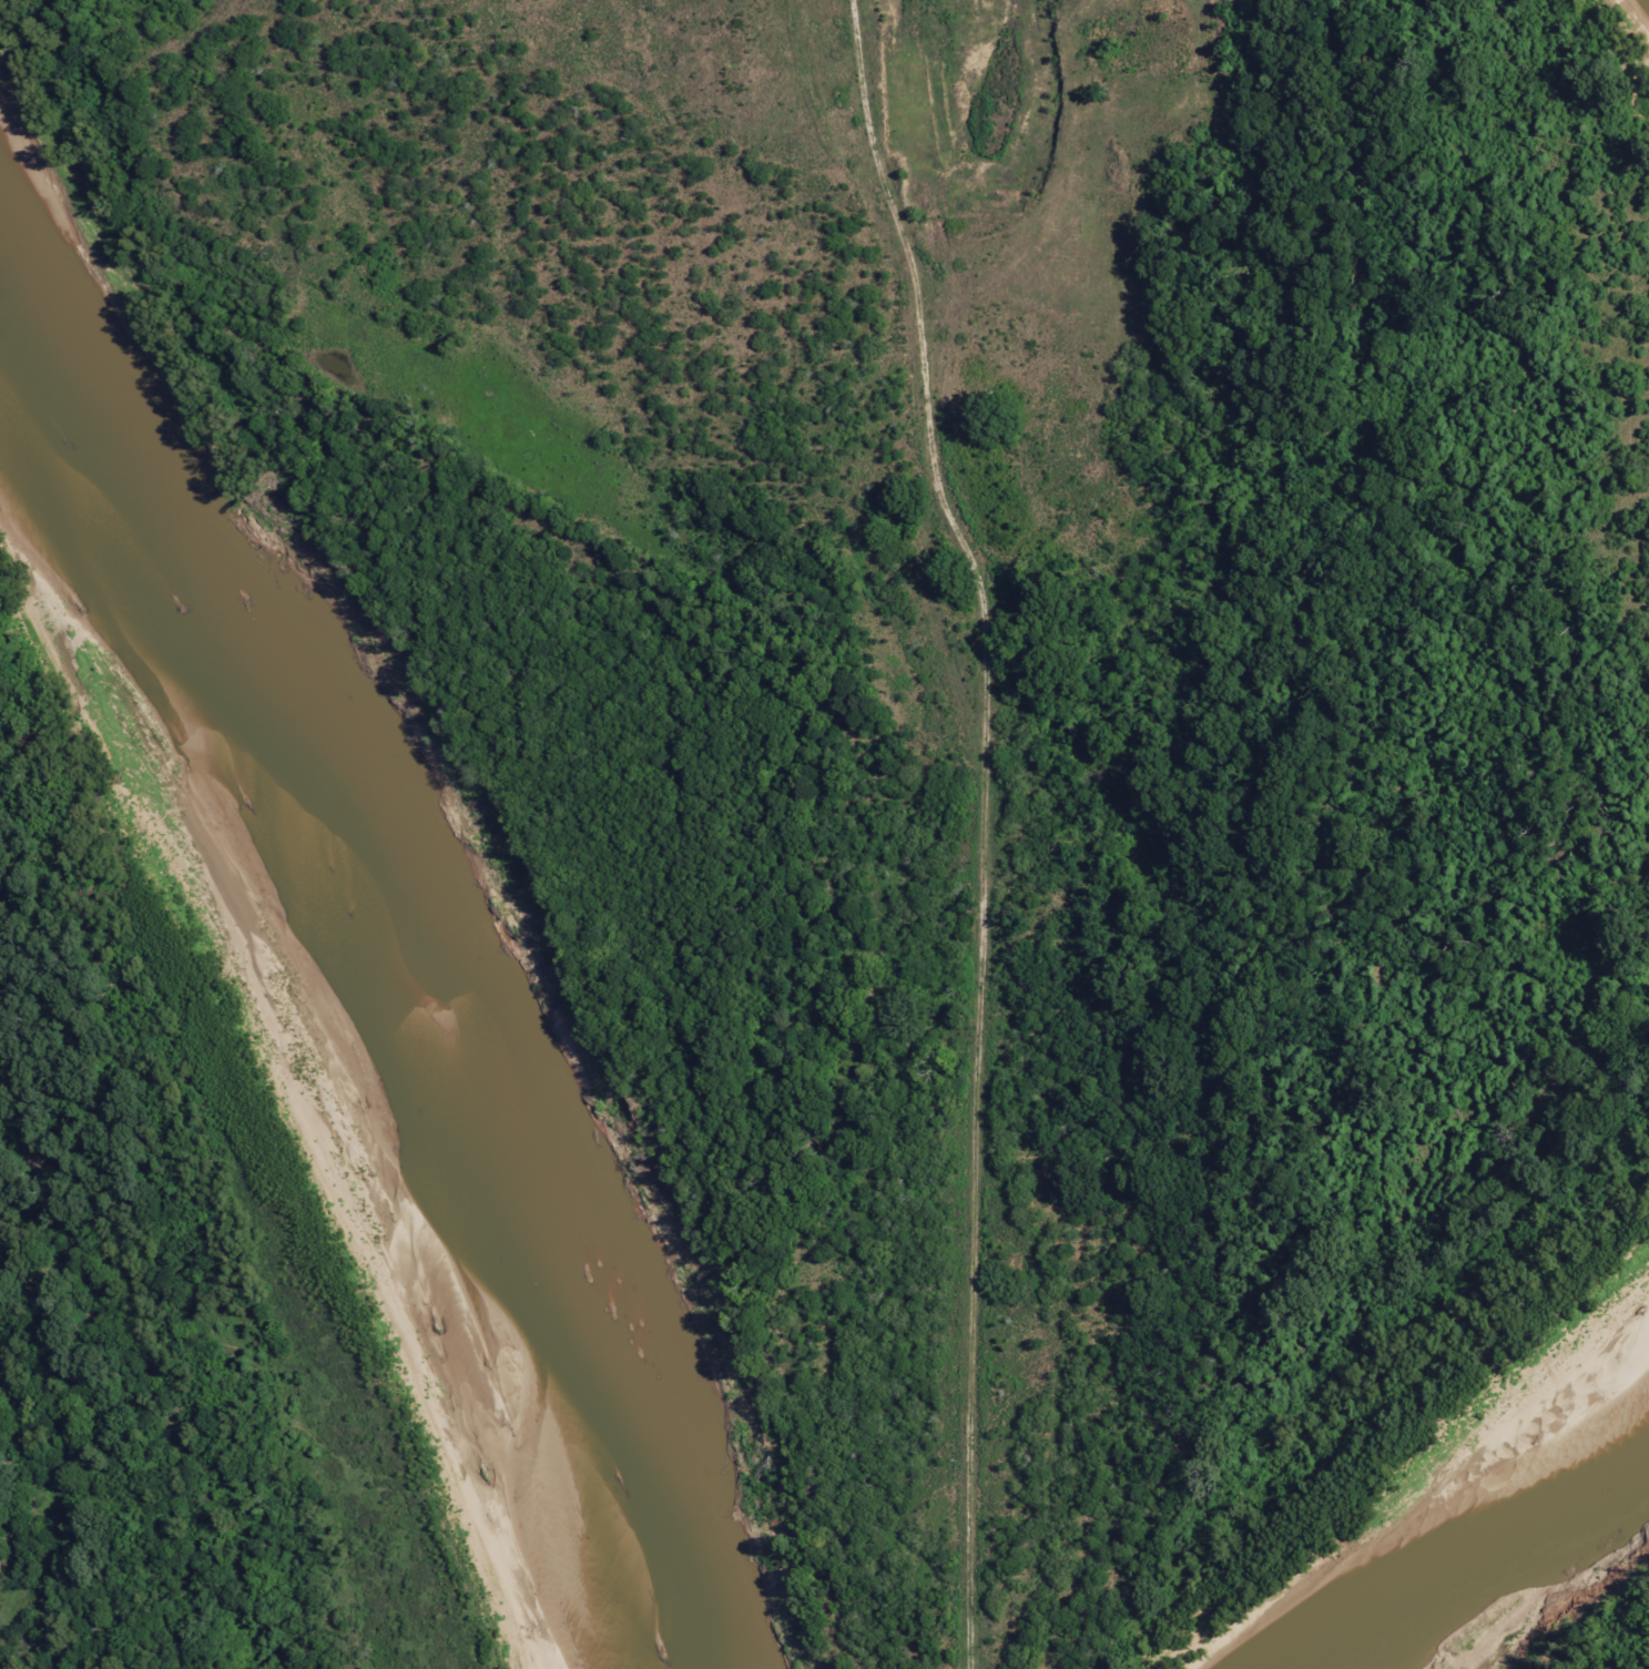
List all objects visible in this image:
river: (21, 423)
road: (983, 797)
river: (379, 1056)
river: (1455, 1520)

